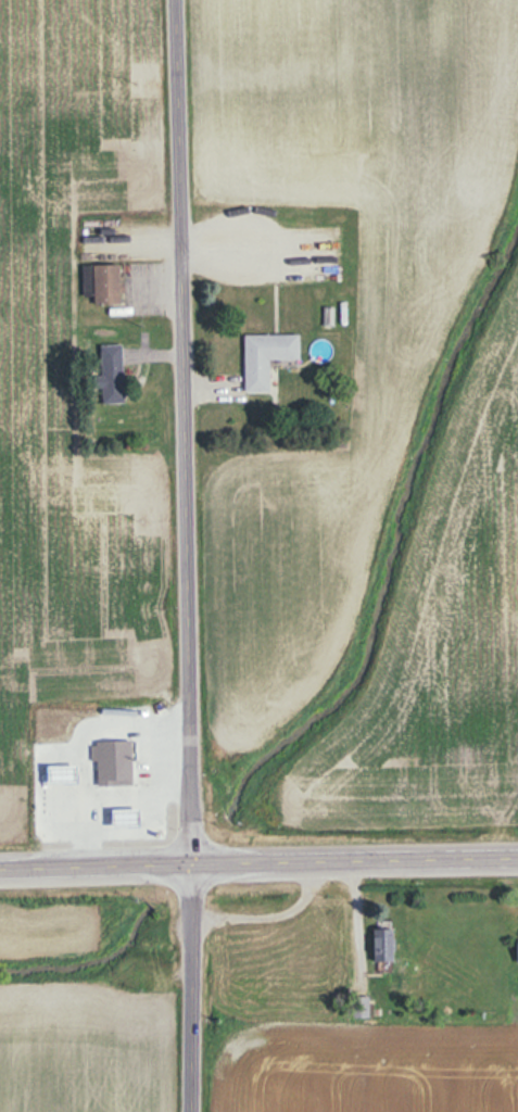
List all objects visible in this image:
building: (108, 285)
building: (267, 357)
building: (112, 374)
road: (184, 430)
road: (100, 724)
building: (113, 757)
building: (56, 762)
road: (109, 798)
building: (124, 816)
road: (258, 860)
building: (384, 944)
building: (517, 950)
road: (190, 987)

